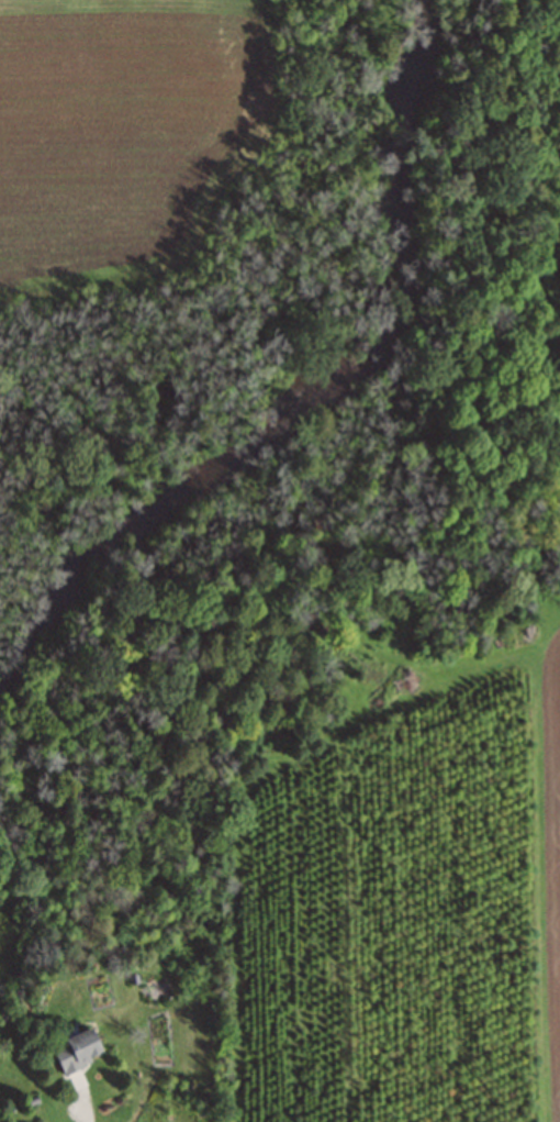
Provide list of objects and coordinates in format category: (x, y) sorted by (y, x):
river: (346, 422)
building: (75, 1049)
road: (86, 1102)

